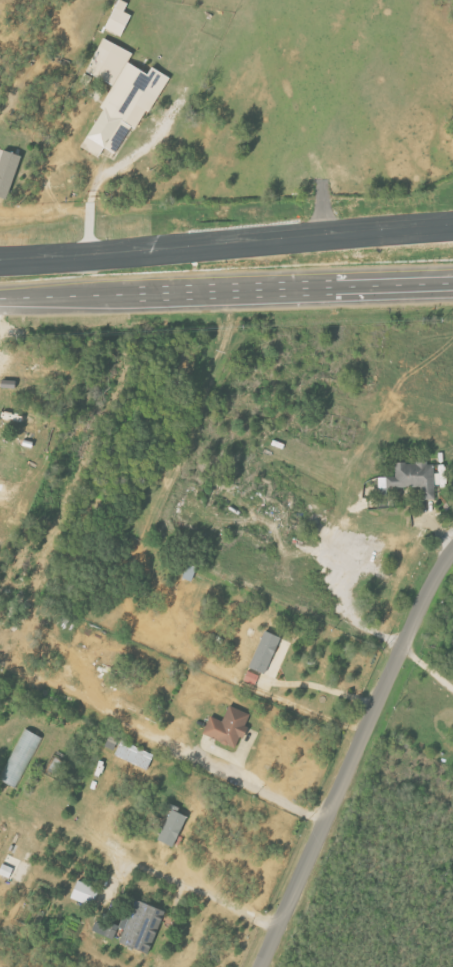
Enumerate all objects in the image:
building: (119, 18)
building: (120, 98)
building: (8, 172)
road: (112, 173)
road: (226, 241)
road: (394, 284)
road: (237, 289)
road: (70, 295)
building: (415, 479)
road: (452, 550)
building: (266, 652)
road: (427, 667)
building: (252, 678)
road: (321, 688)
building: (229, 727)
building: (135, 755)
road: (353, 755)
building: (20, 758)
road: (267, 792)
building: (174, 828)
building: (6, 871)
building: (86, 894)
road: (217, 900)
building: (142, 926)
building: (106, 930)

